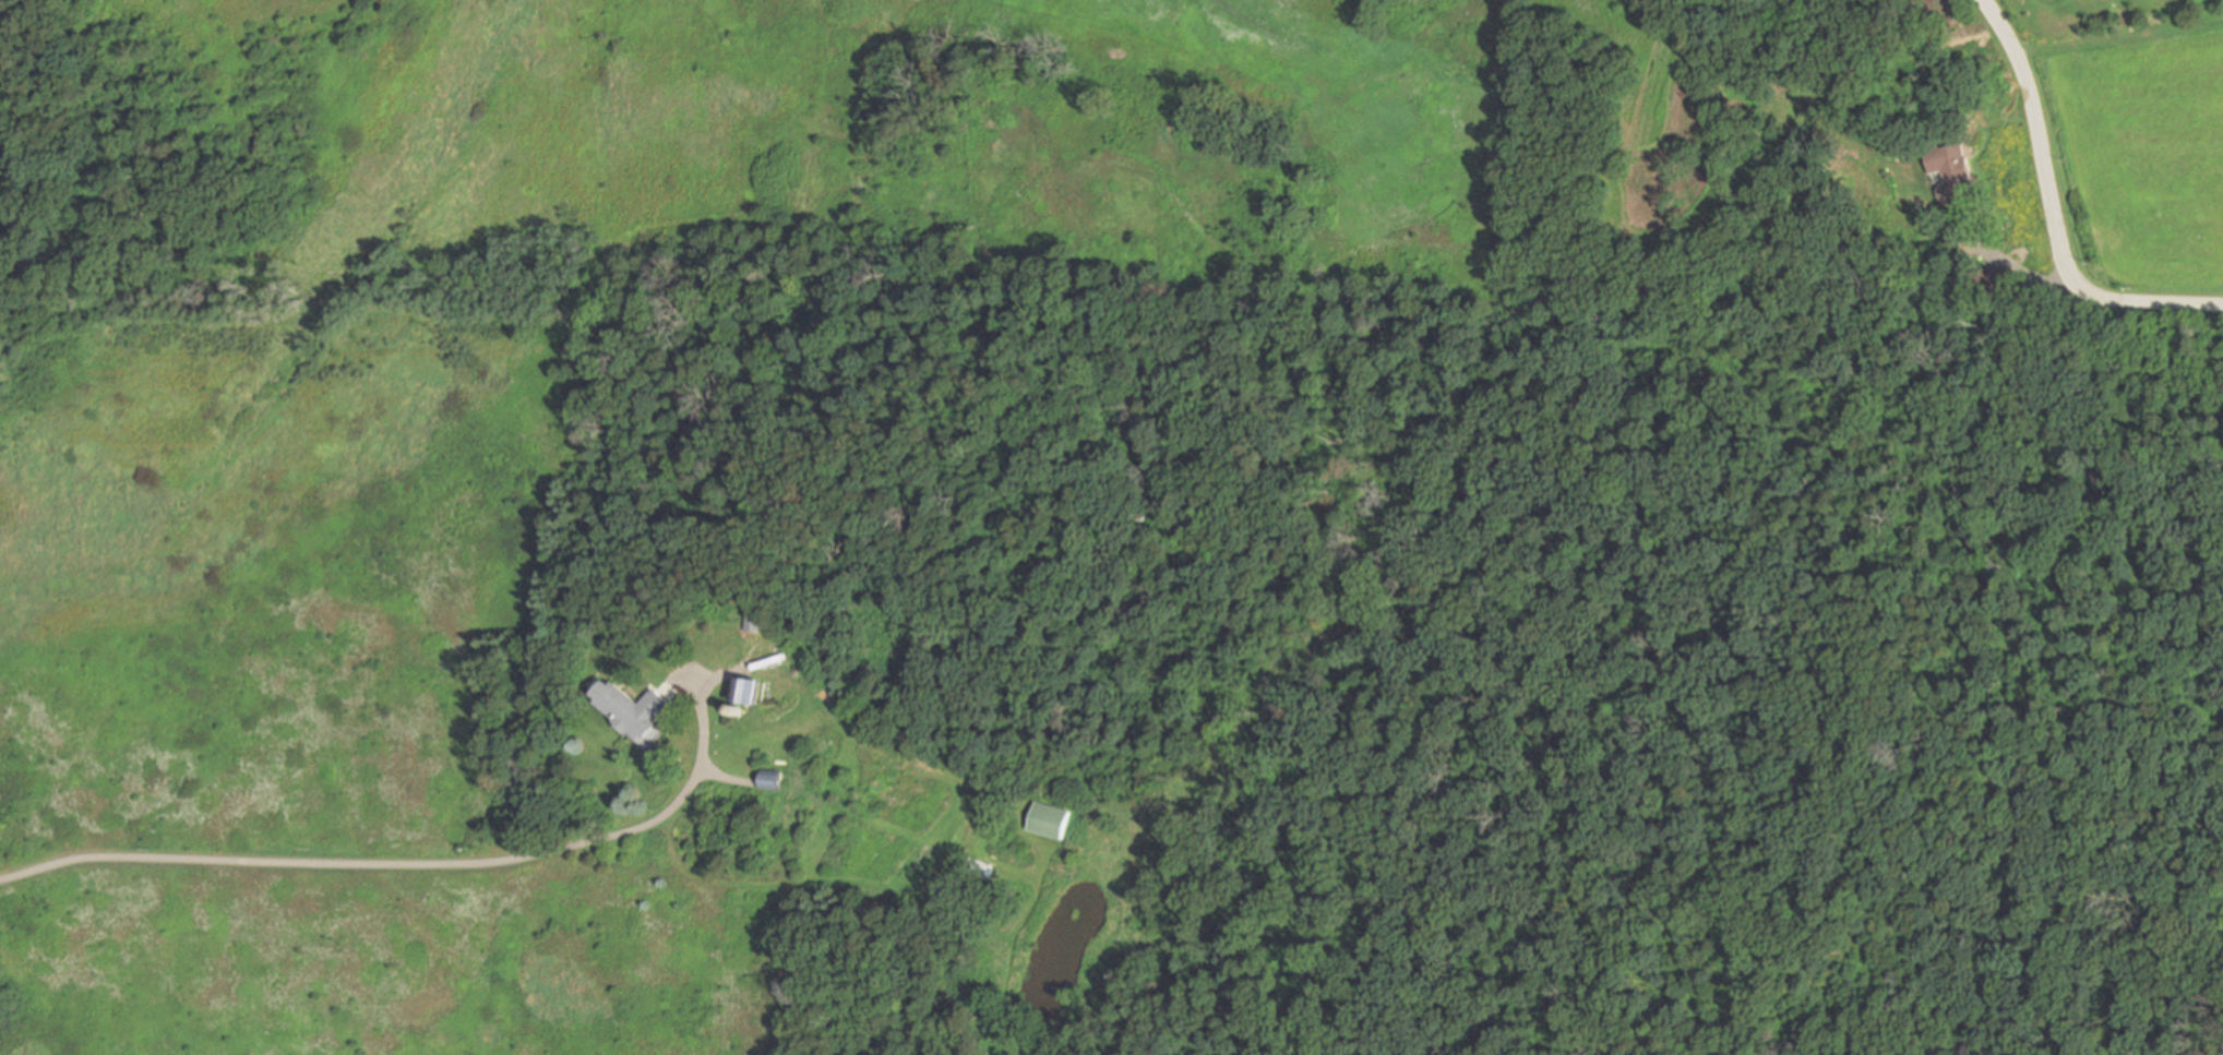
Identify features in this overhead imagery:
road: (2040, 140)
building: (1951, 172)
road: (2013, 267)
building: (1988, 278)
road: (2149, 302)
building: (1180, 521)
building: (755, 620)
building: (748, 691)
building: (635, 714)
road: (726, 778)
building: (772, 780)
building: (1048, 820)
road: (428, 865)
building: (979, 870)

